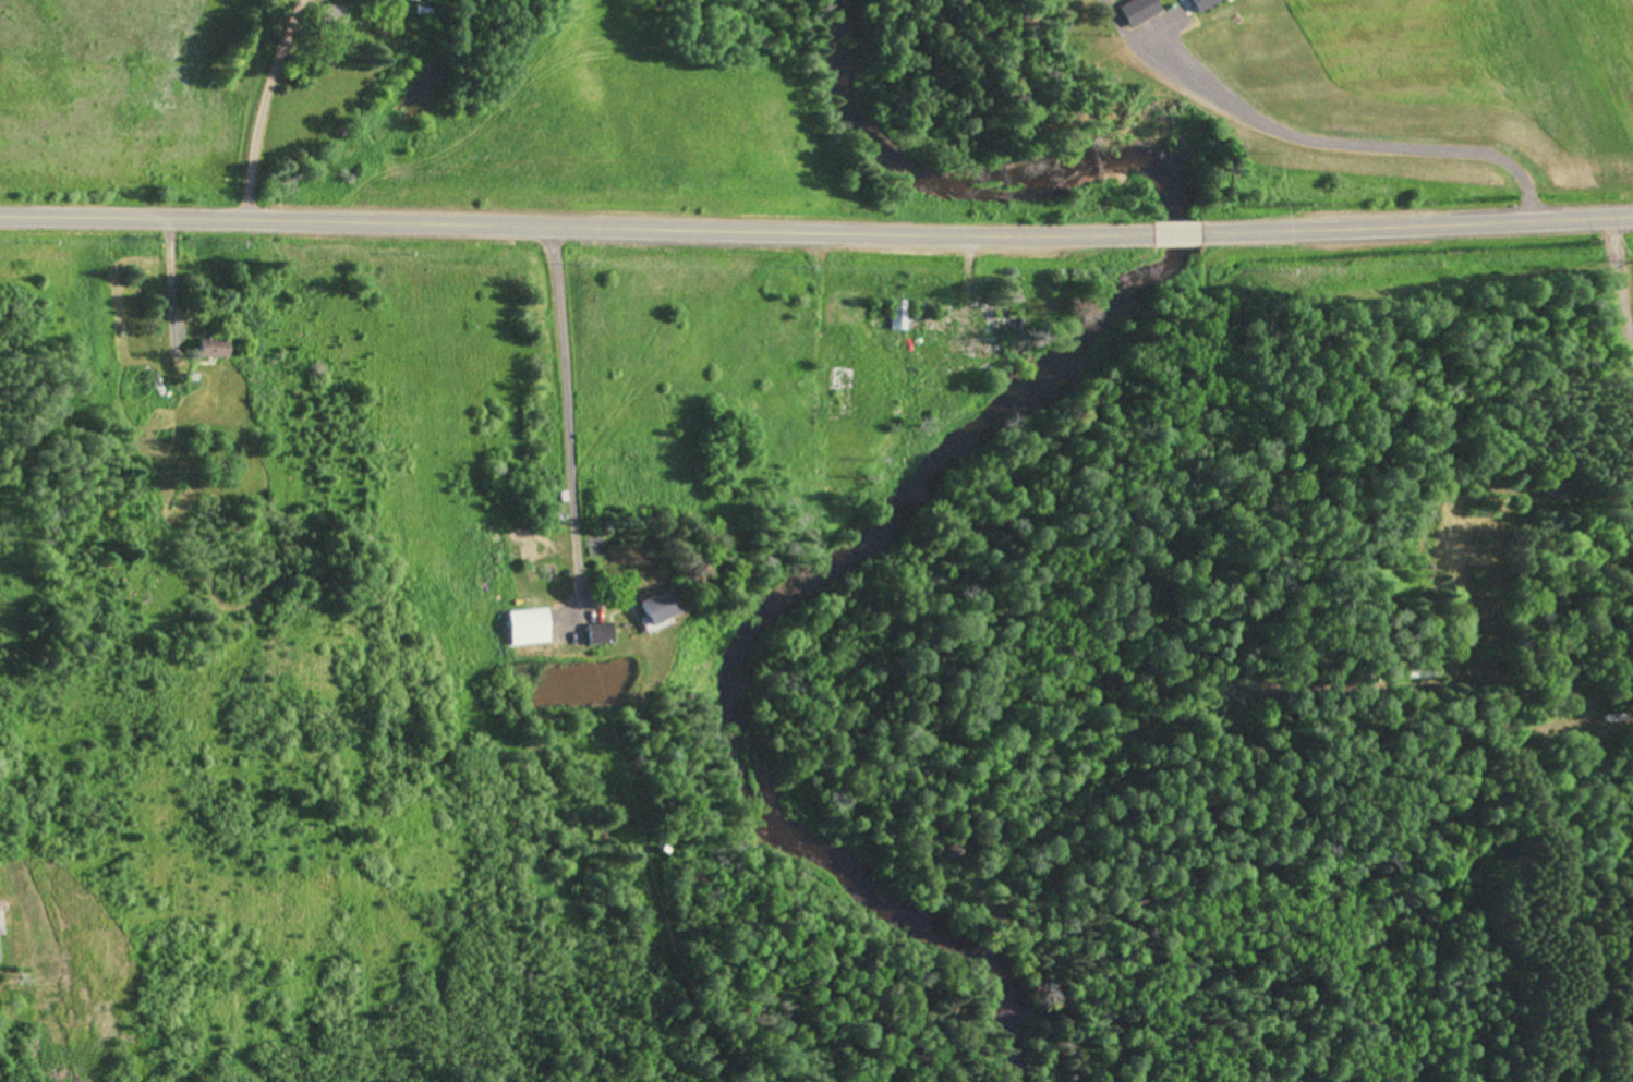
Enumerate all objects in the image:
building: (1208, 4)
building: (1141, 11)
road: (1249, 131)
road: (816, 228)
building: (899, 317)
building: (1008, 329)
building: (217, 351)
building: (1557, 491)
building: (664, 609)
building: (528, 629)
building: (601, 635)
building: (0, 963)

